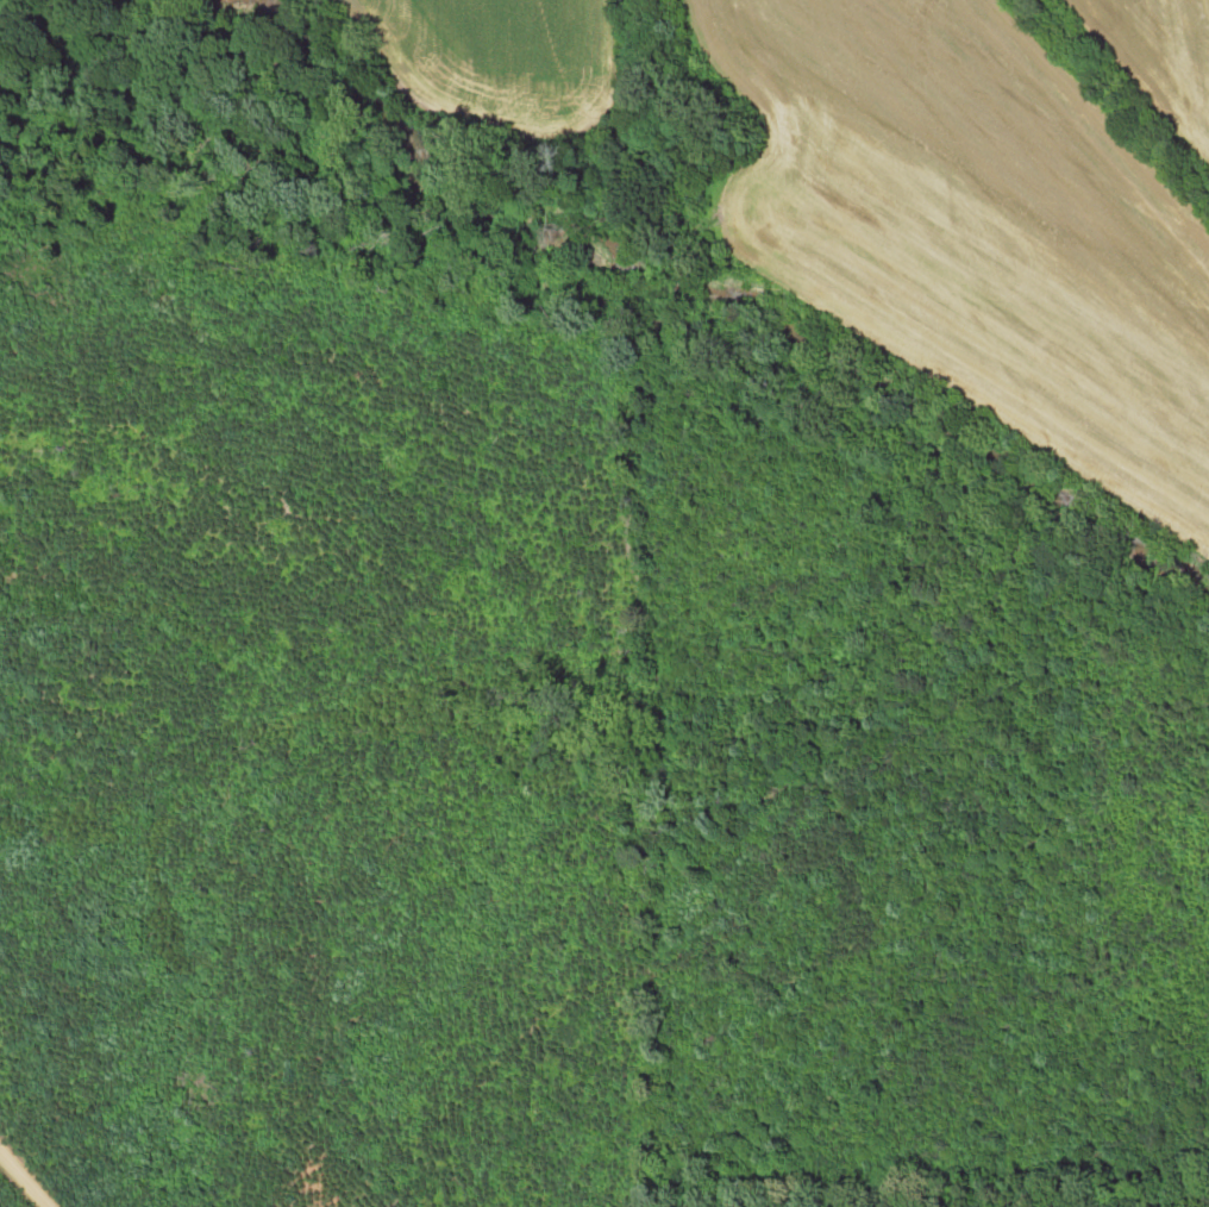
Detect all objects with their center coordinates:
road: (25, 1181)

